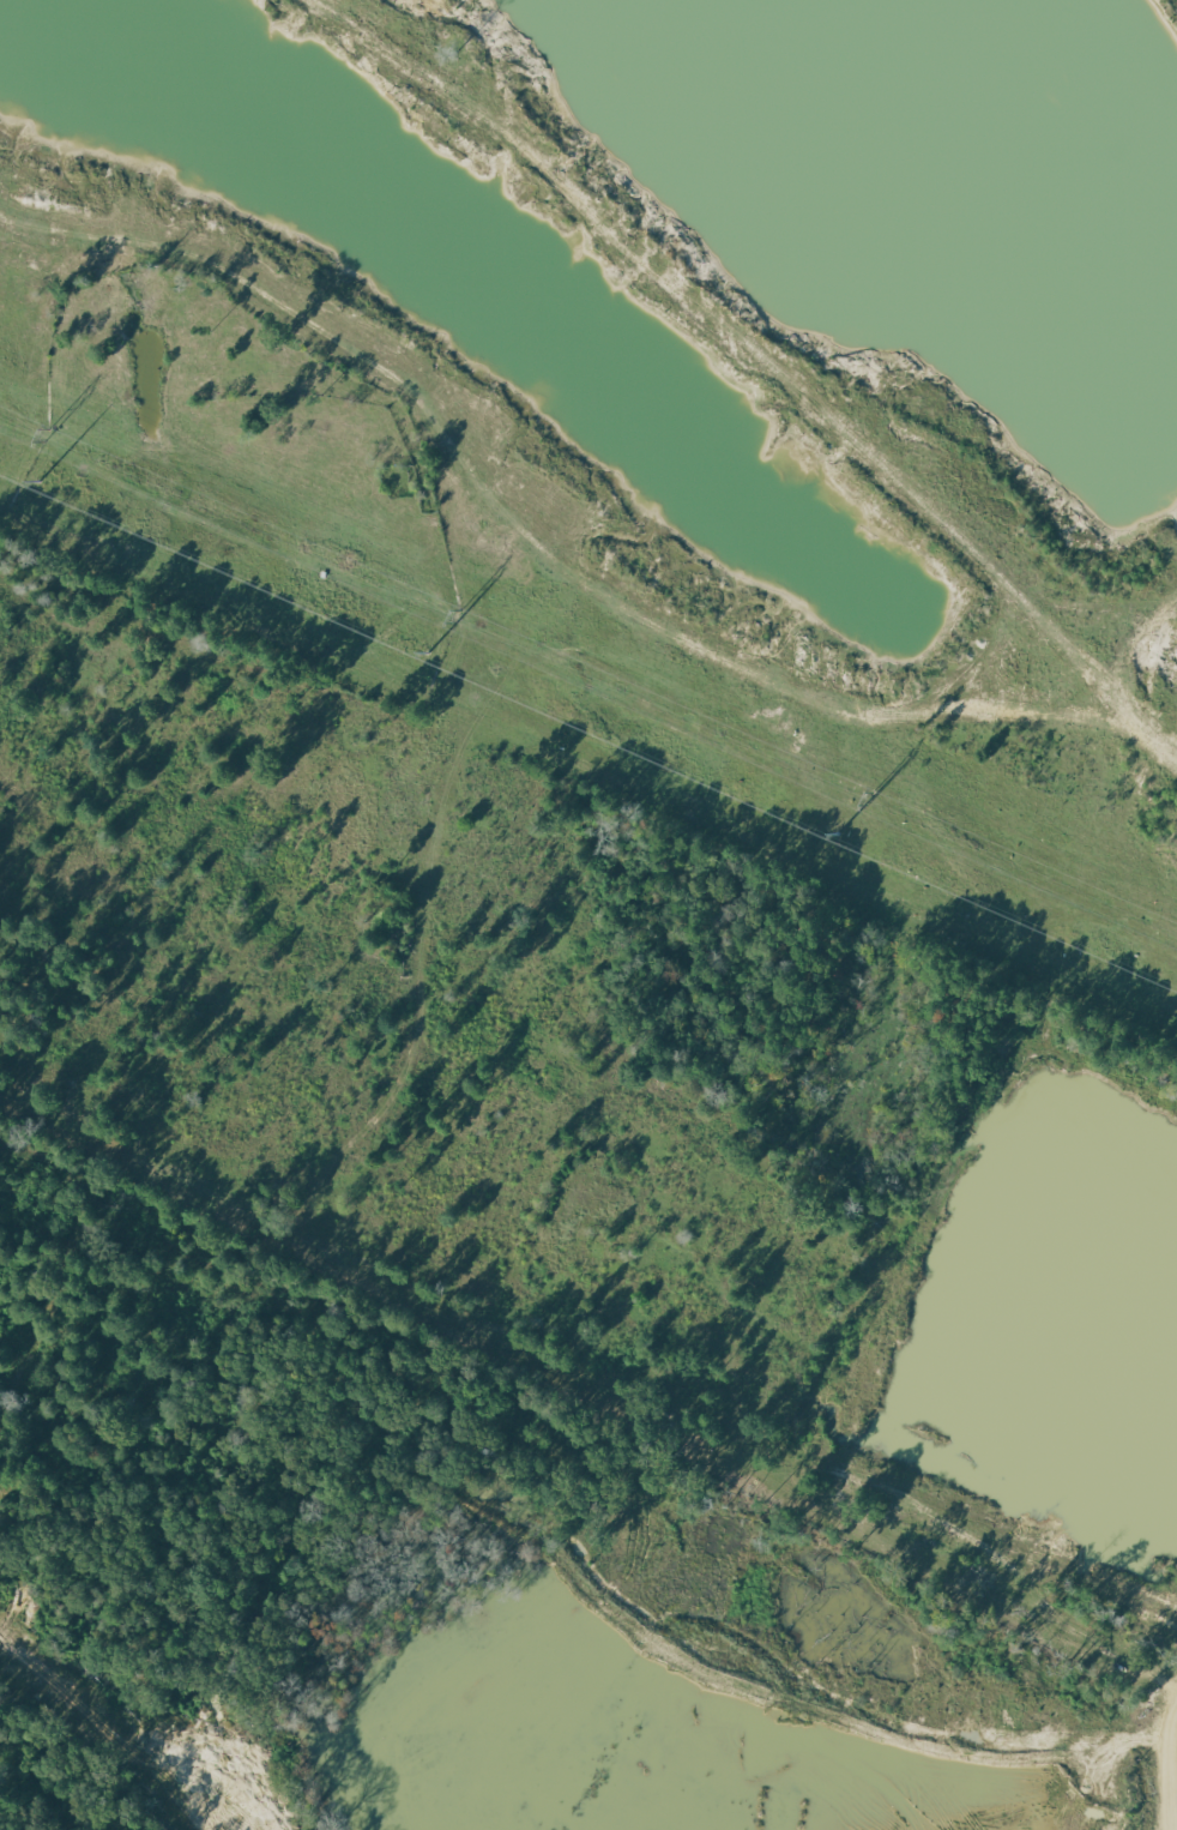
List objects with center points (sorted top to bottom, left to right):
power tower: (46, 437)
power tower: (457, 618)
road: (1115, 674)
power tower: (869, 800)
road: (1173, 1776)

